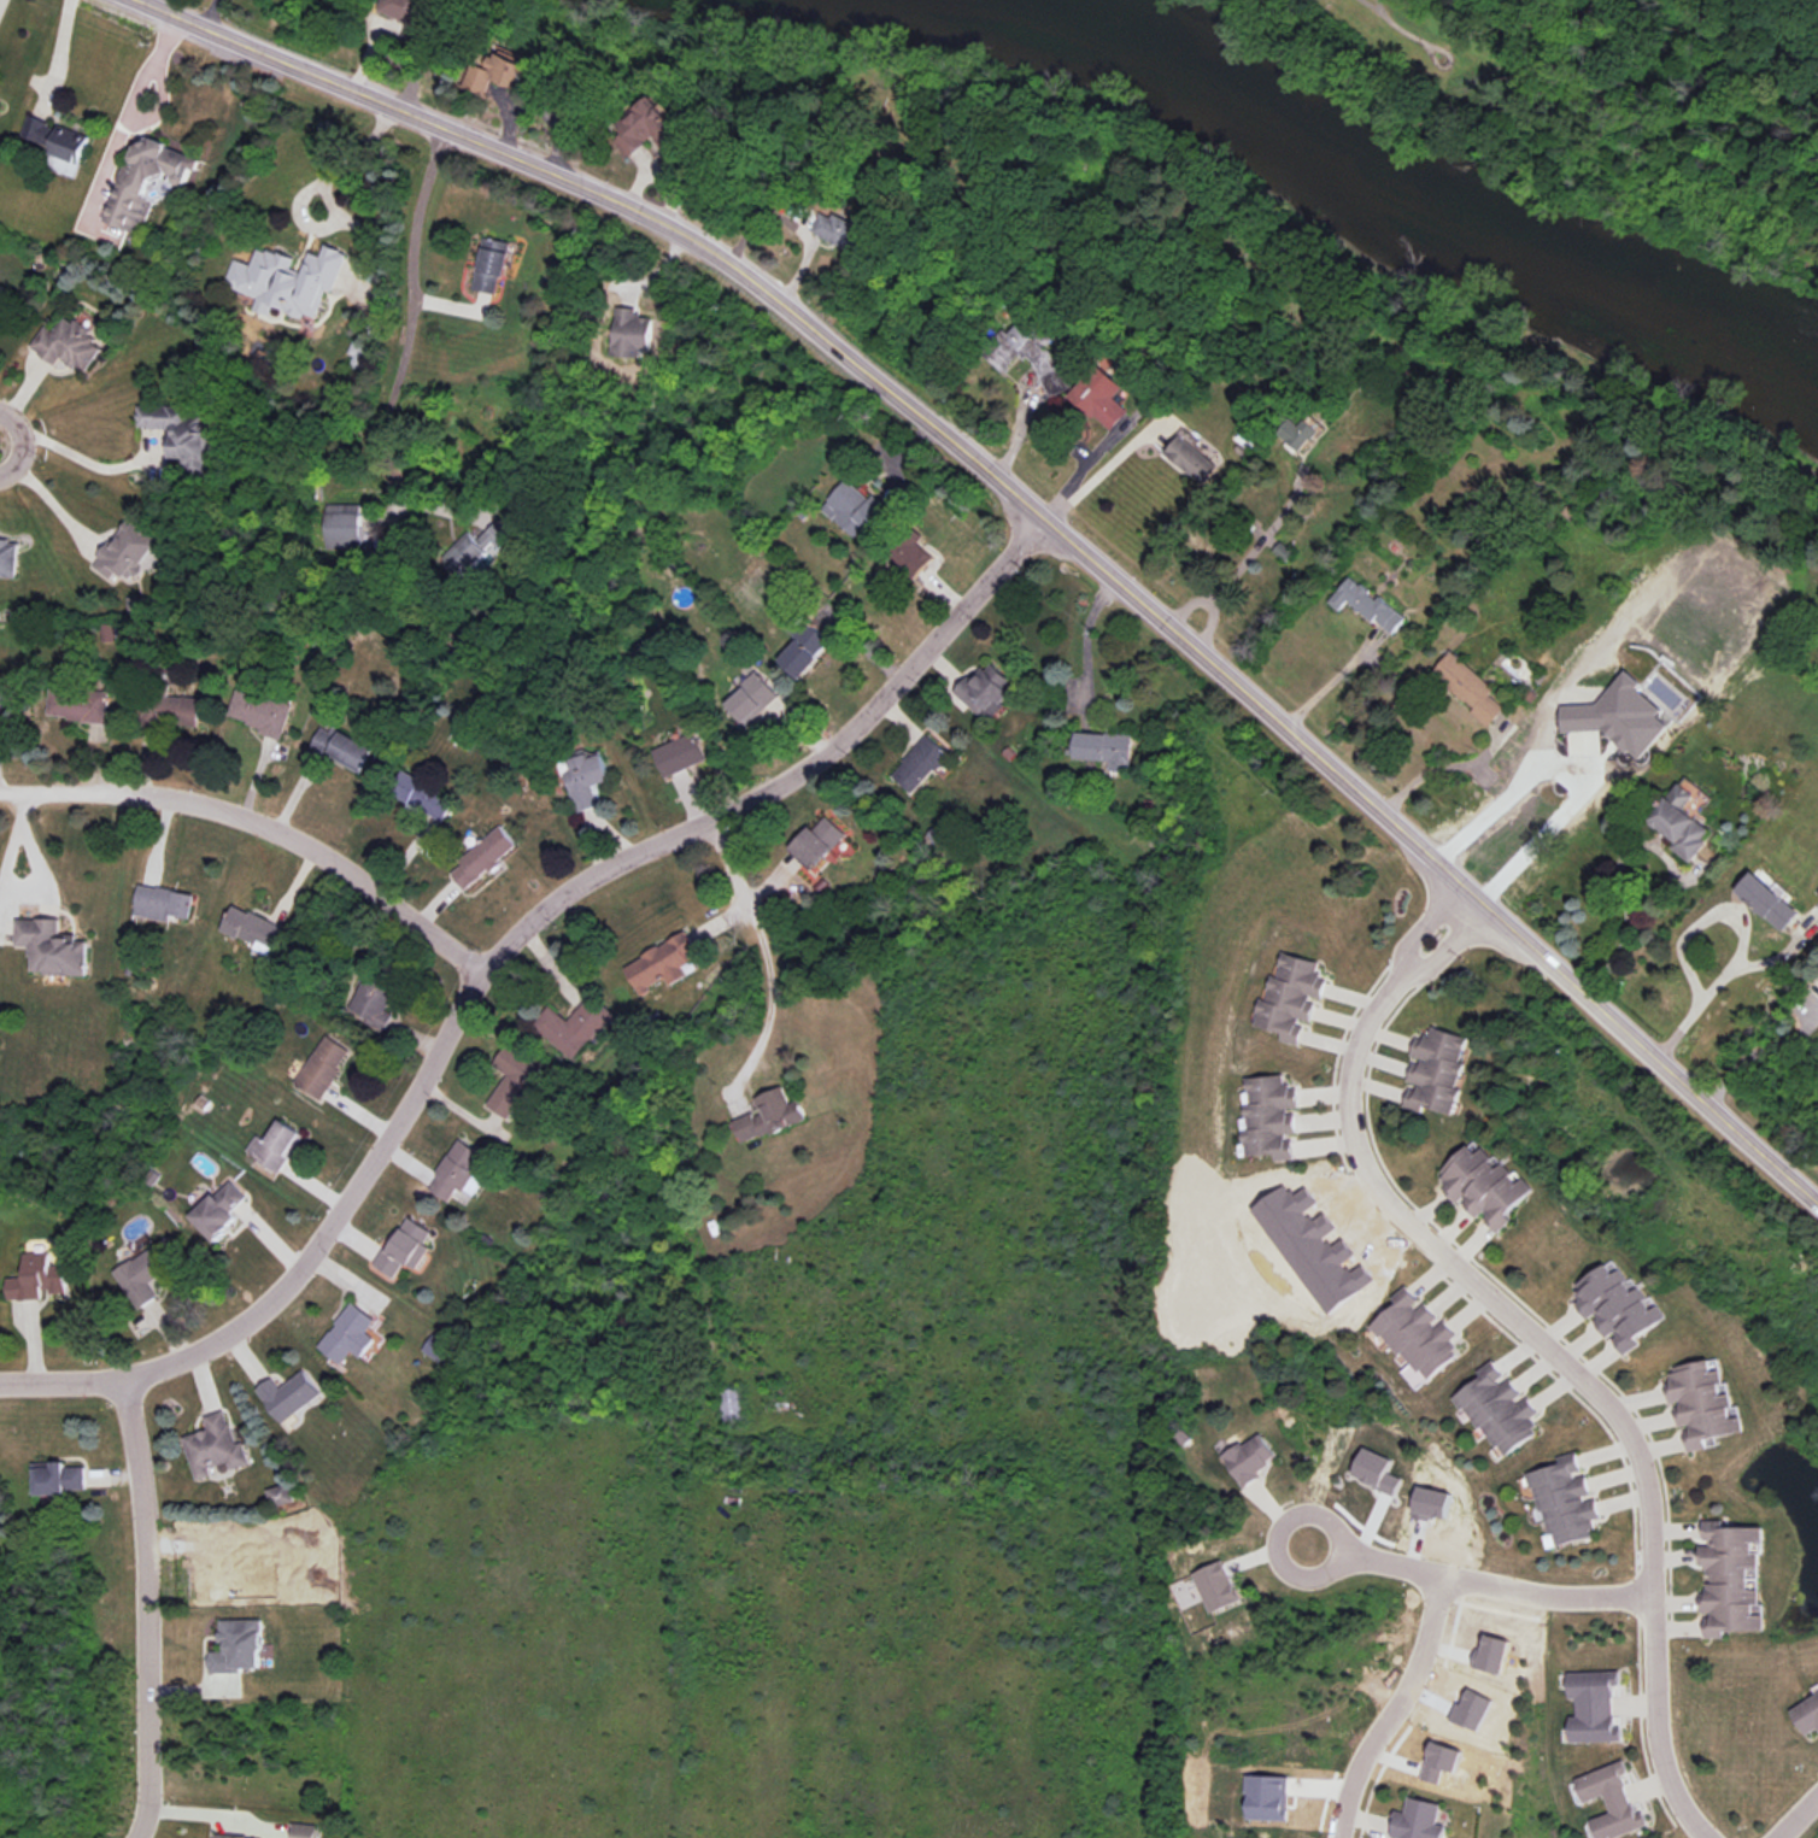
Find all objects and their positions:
road: (148, 2)
road: (211, 14)
building: (412, 19)
road: (57, 55)
park: (1435, 55)
building: (498, 76)
building: (644, 127)
building: (54, 140)
road: (347, 155)
building: (145, 181)
river: (1404, 189)
building: (845, 236)
building: (489, 265)
building: (286, 280)
road: (407, 316)
building: (631, 335)
building: (71, 346)
building: (358, 354)
building: (1028, 354)
building: (1098, 398)
building: (1295, 434)
building: (183, 435)
road: (75, 456)
building: (1187, 458)
road: (1108, 466)
road: (43, 495)
building: (855, 511)
road: (1039, 511)
building: (340, 527)
road: (1260, 542)
building: (475, 550)
building: (129, 552)
building: (913, 553)
building: (10, 559)
road: (1209, 605)
building: (1365, 605)
building: (107, 632)
building: (809, 641)
road: (1085, 642)
road: (1331, 681)
building: (1467, 688)
building: (989, 689)
building: (755, 700)
building: (80, 706)
building: (2, 707)
building: (172, 707)
building: (262, 712)
building: (1619, 716)
building: (346, 750)
building: (1103, 750)
building: (684, 756)
building: (922, 765)
road: (1573, 777)
road: (1429, 779)
building: (588, 781)
building: (424, 797)
road: (258, 821)
building: (1678, 824)
building: (822, 842)
building: (486, 859)
road: (1672, 875)
road: (33, 882)
building: (1817, 892)
building: (1817, 894)
building: (1765, 902)
building: (165, 905)
road: (1418, 922)
building: (254, 930)
road: (1742, 940)
road: (1442, 945)
road: (494, 946)
building: (53, 949)
road: (762, 950)
building: (667, 964)
building: (374, 999)
building: (1286, 999)
building: (575, 1027)
road: (1757, 1053)
building: (324, 1068)
building: (1435, 1071)
building: (515, 1080)
building: (1265, 1115)
building: (770, 1117)
building: (277, 1147)
building: (461, 1175)
building: (1483, 1180)
building: (223, 1214)
building: (406, 1247)
building: (151, 1272)
building: (41, 1280)
building: (1612, 1305)
building: (1409, 1328)
building: (351, 1335)
building: (436, 1347)
road: (1570, 1370)
building: (292, 1396)
building: (733, 1408)
building: (1701, 1408)
building: (1492, 1409)
building: (218, 1449)
building: (1241, 1458)
building: (63, 1481)
building: (280, 1495)
building: (1562, 1497)
crop: (817, 1504)
road: (1389, 1562)
building: (1731, 1578)
building: (1209, 1582)
road: (143, 1607)
building: (241, 1648)
building: (1583, 1684)
road: (1390, 1707)
building: (1804, 1710)
building: (1584, 1726)
building: (1594, 1783)
building: (1267, 1797)
road: (1793, 1814)
building: (1408, 1819)
building: (1609, 1821)
building: (307, 1831)
building: (235, 1837)

